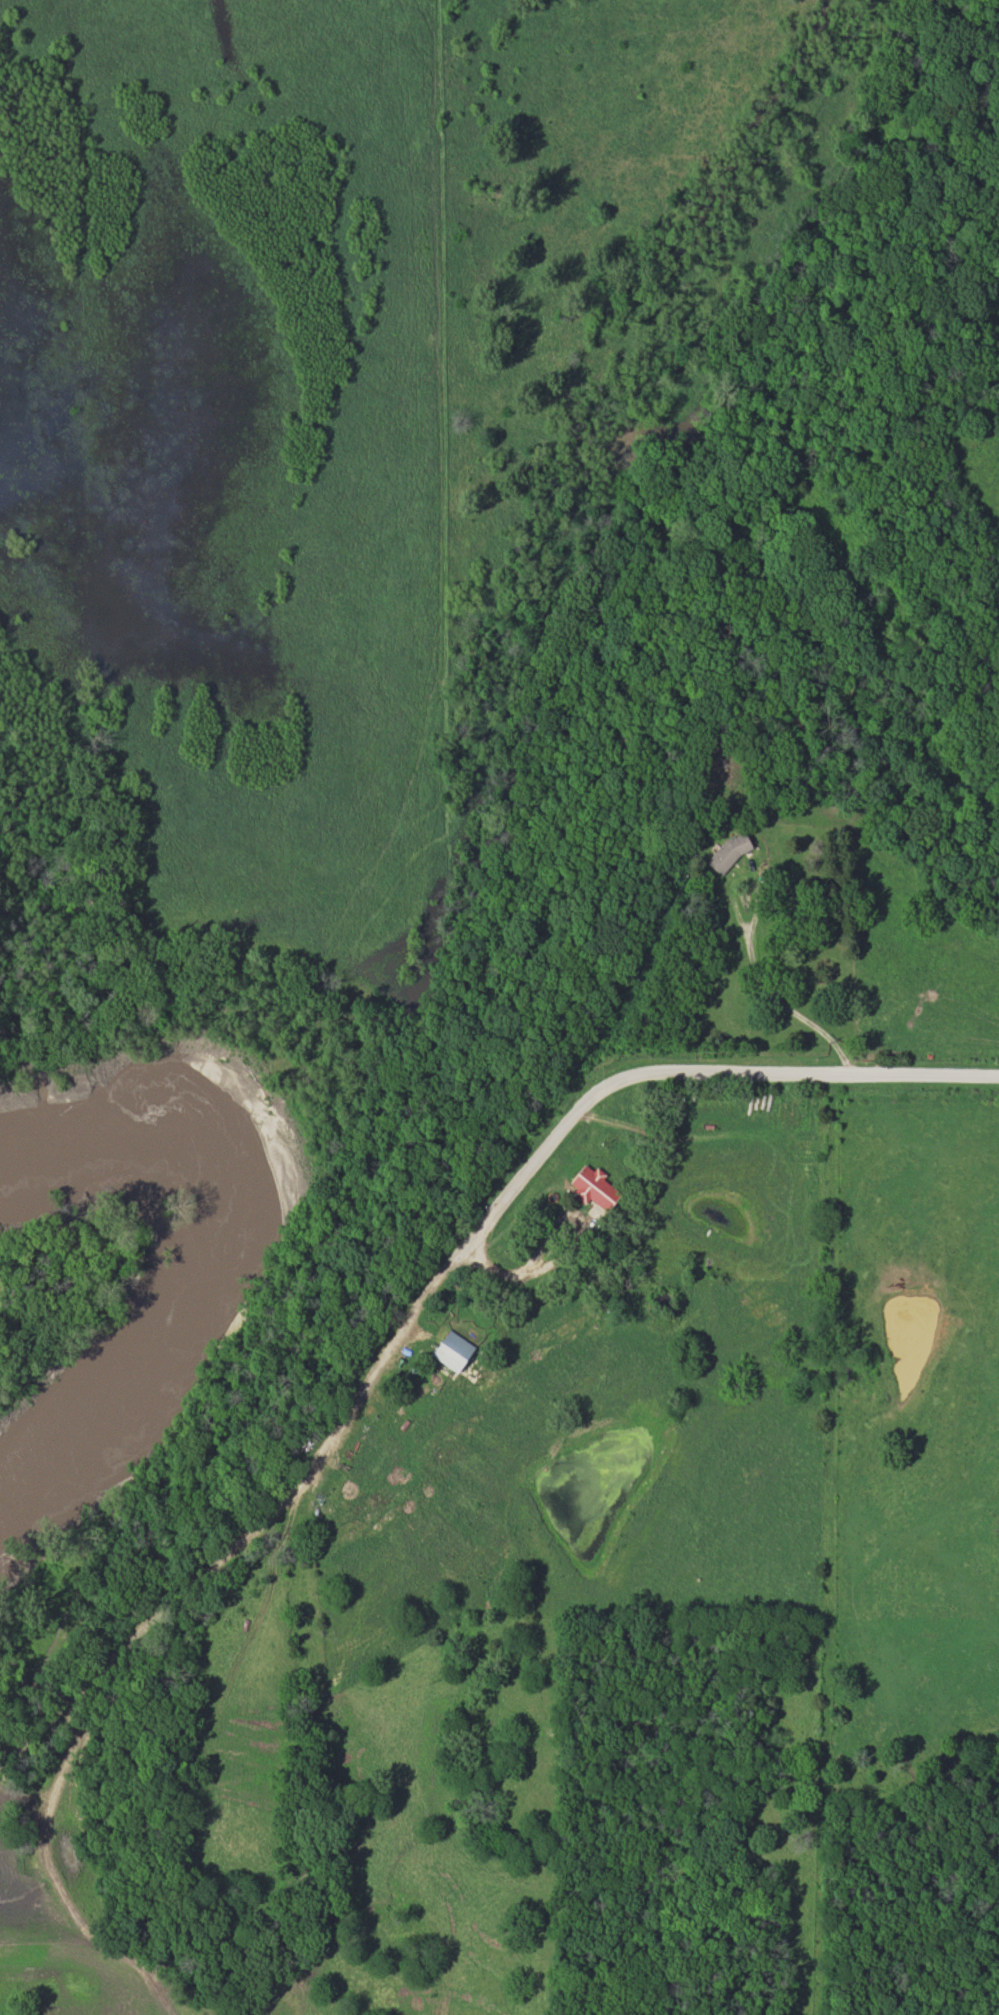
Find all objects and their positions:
road: (771, 993)
building: (590, 1188)
river: (247, 1212)
building: (550, 1228)
road: (442, 1286)
building: (449, 1351)

